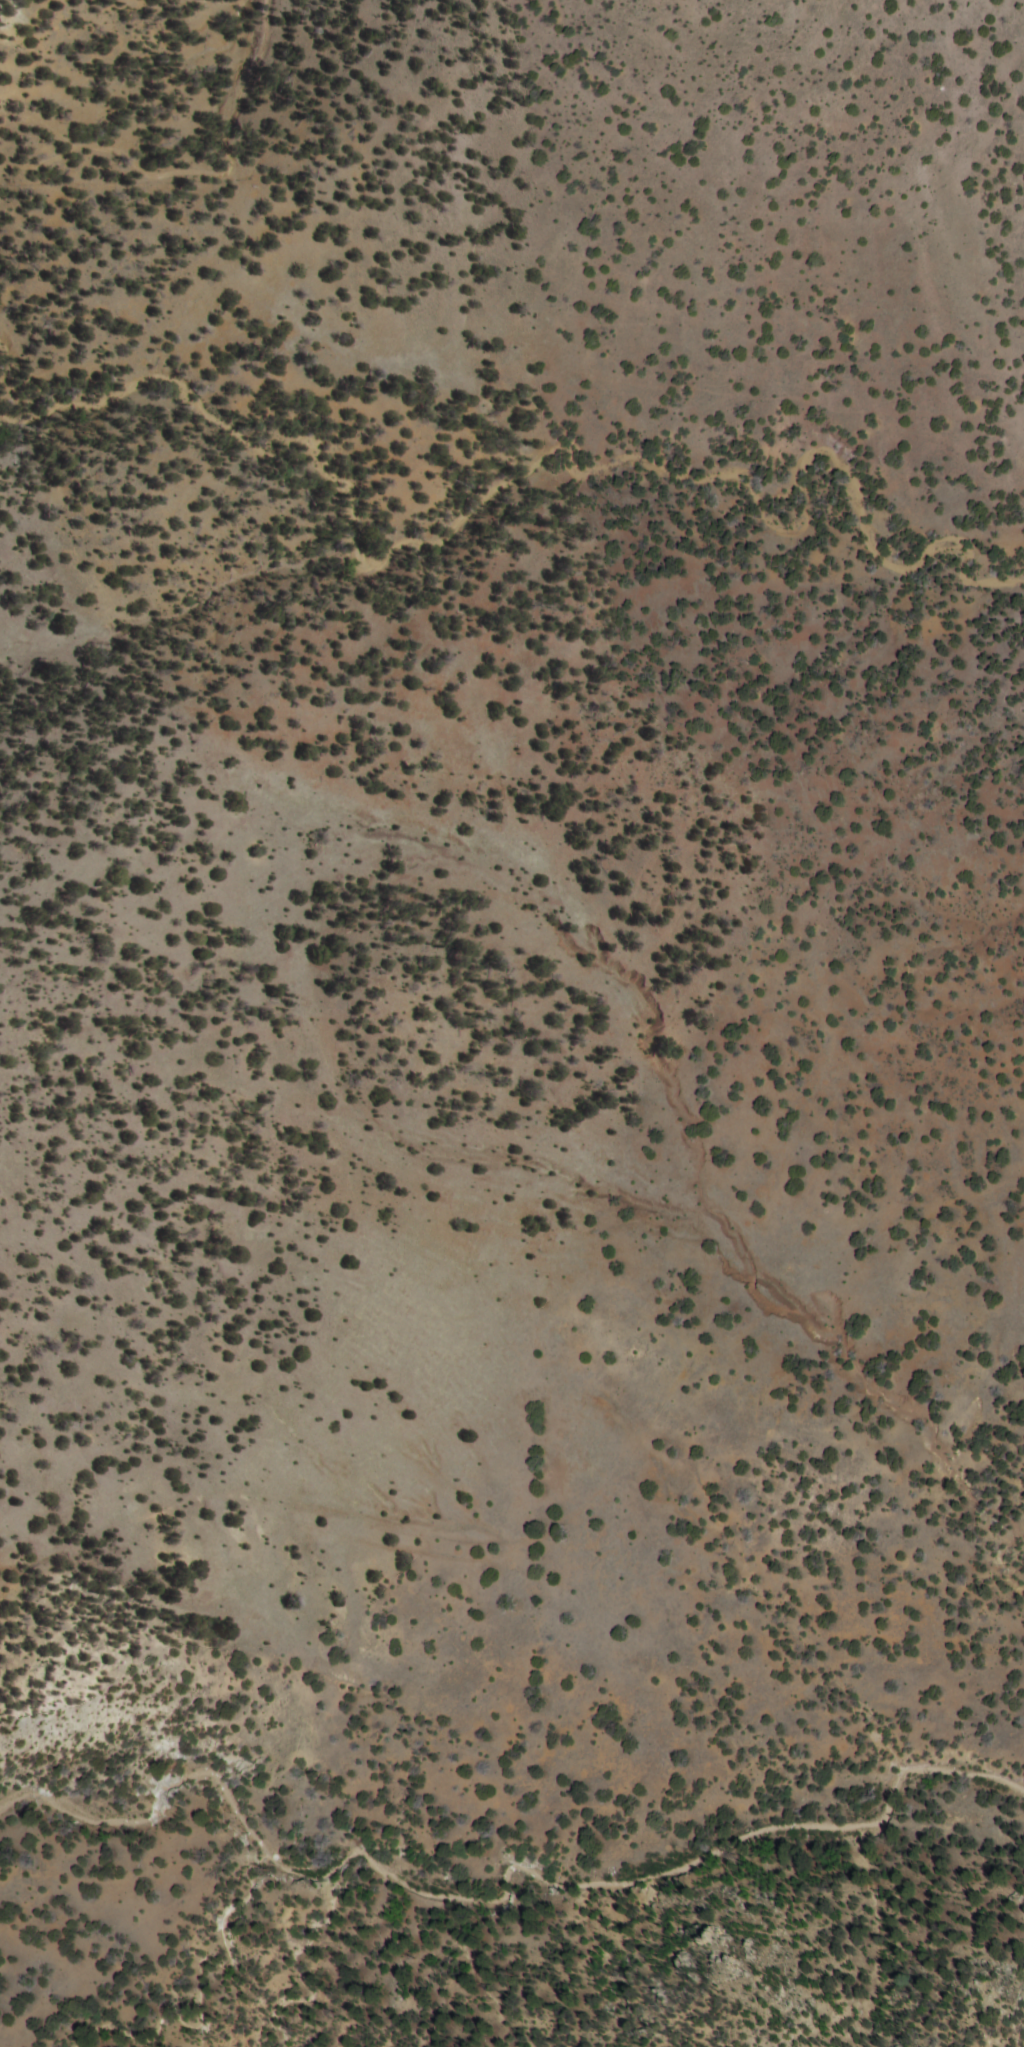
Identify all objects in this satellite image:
road: (178, 172)

